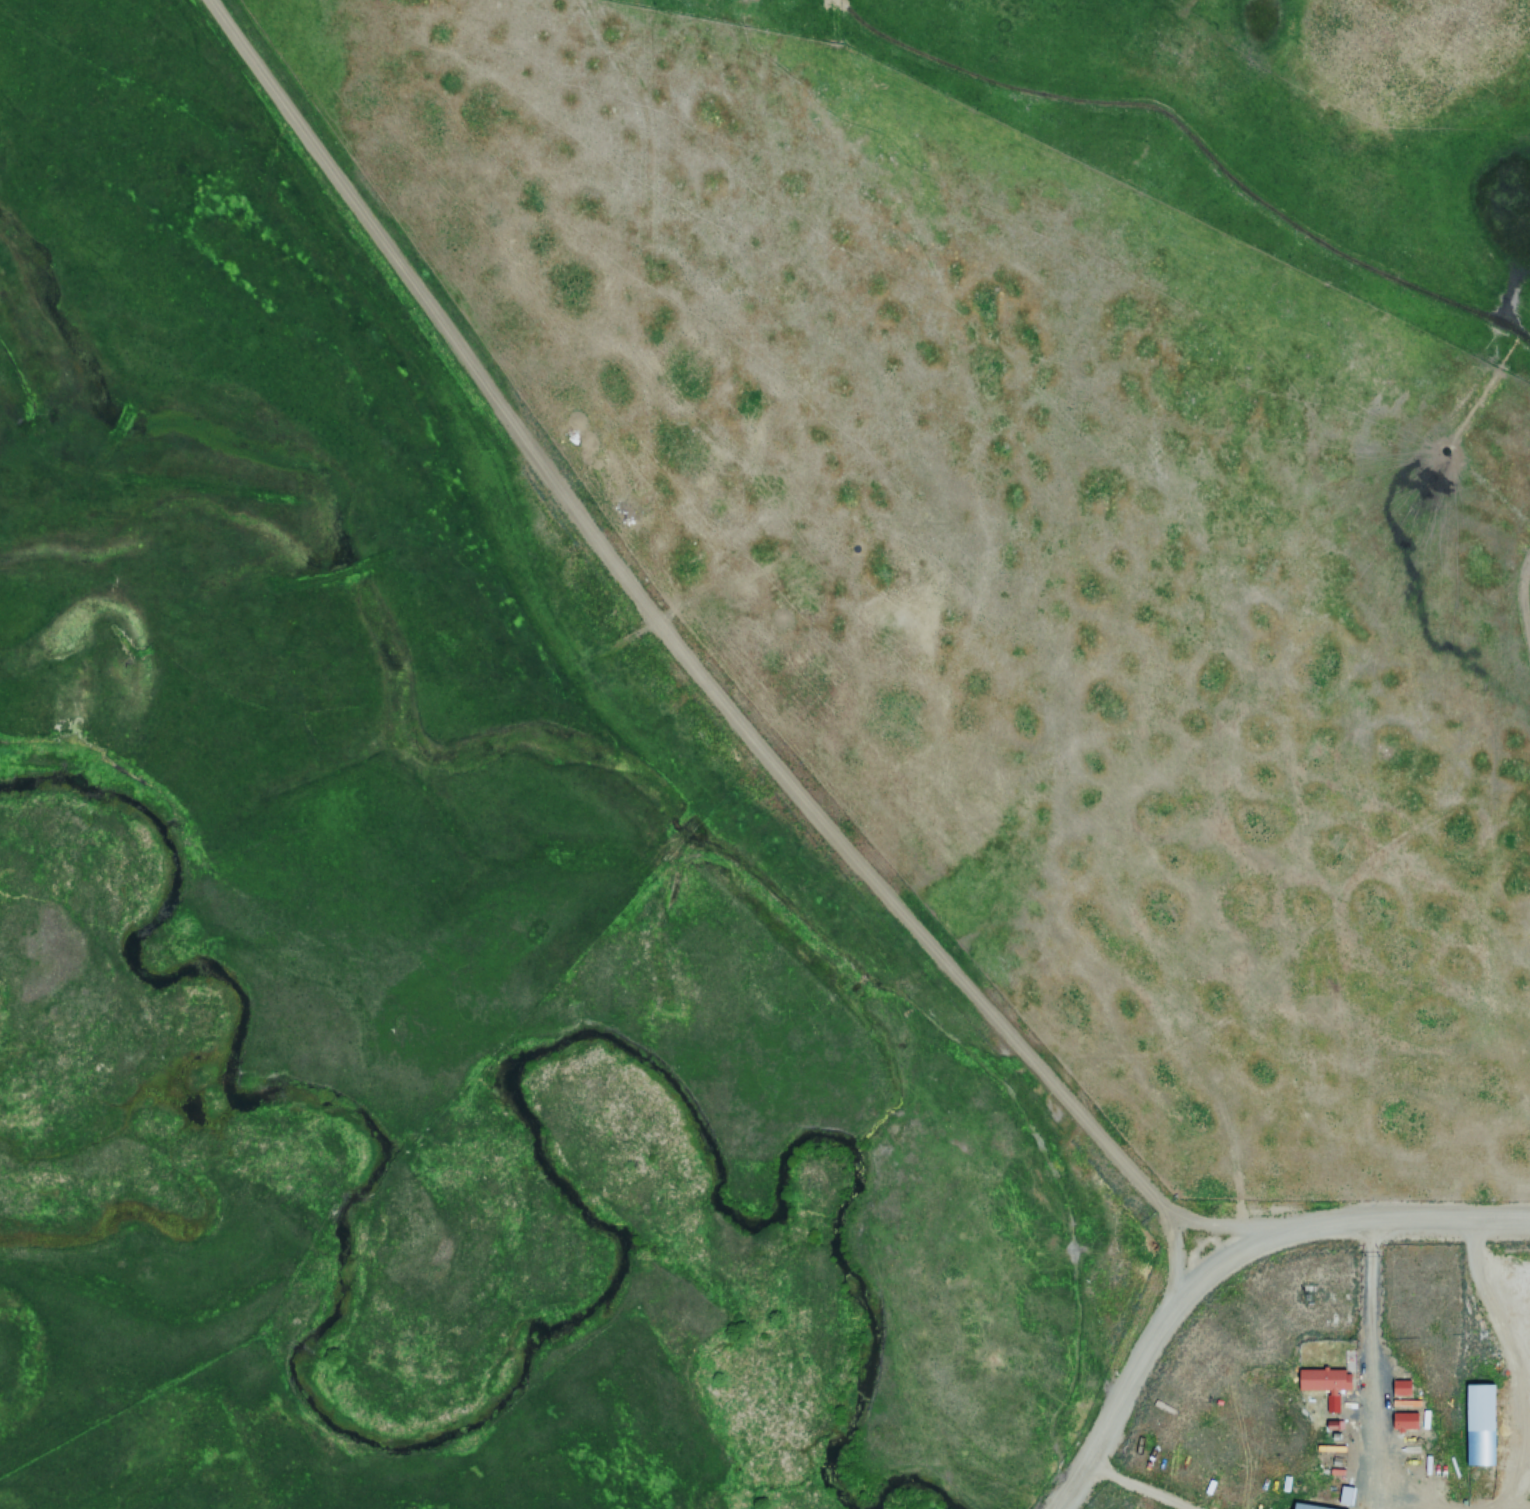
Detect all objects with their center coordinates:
road: (649, 665)
road: (1235, 1261)
river: (551, 1332)
building: (1320, 1381)
building: (1397, 1394)
building: (1401, 1423)
building: (1475, 1426)
river: (921, 1497)

